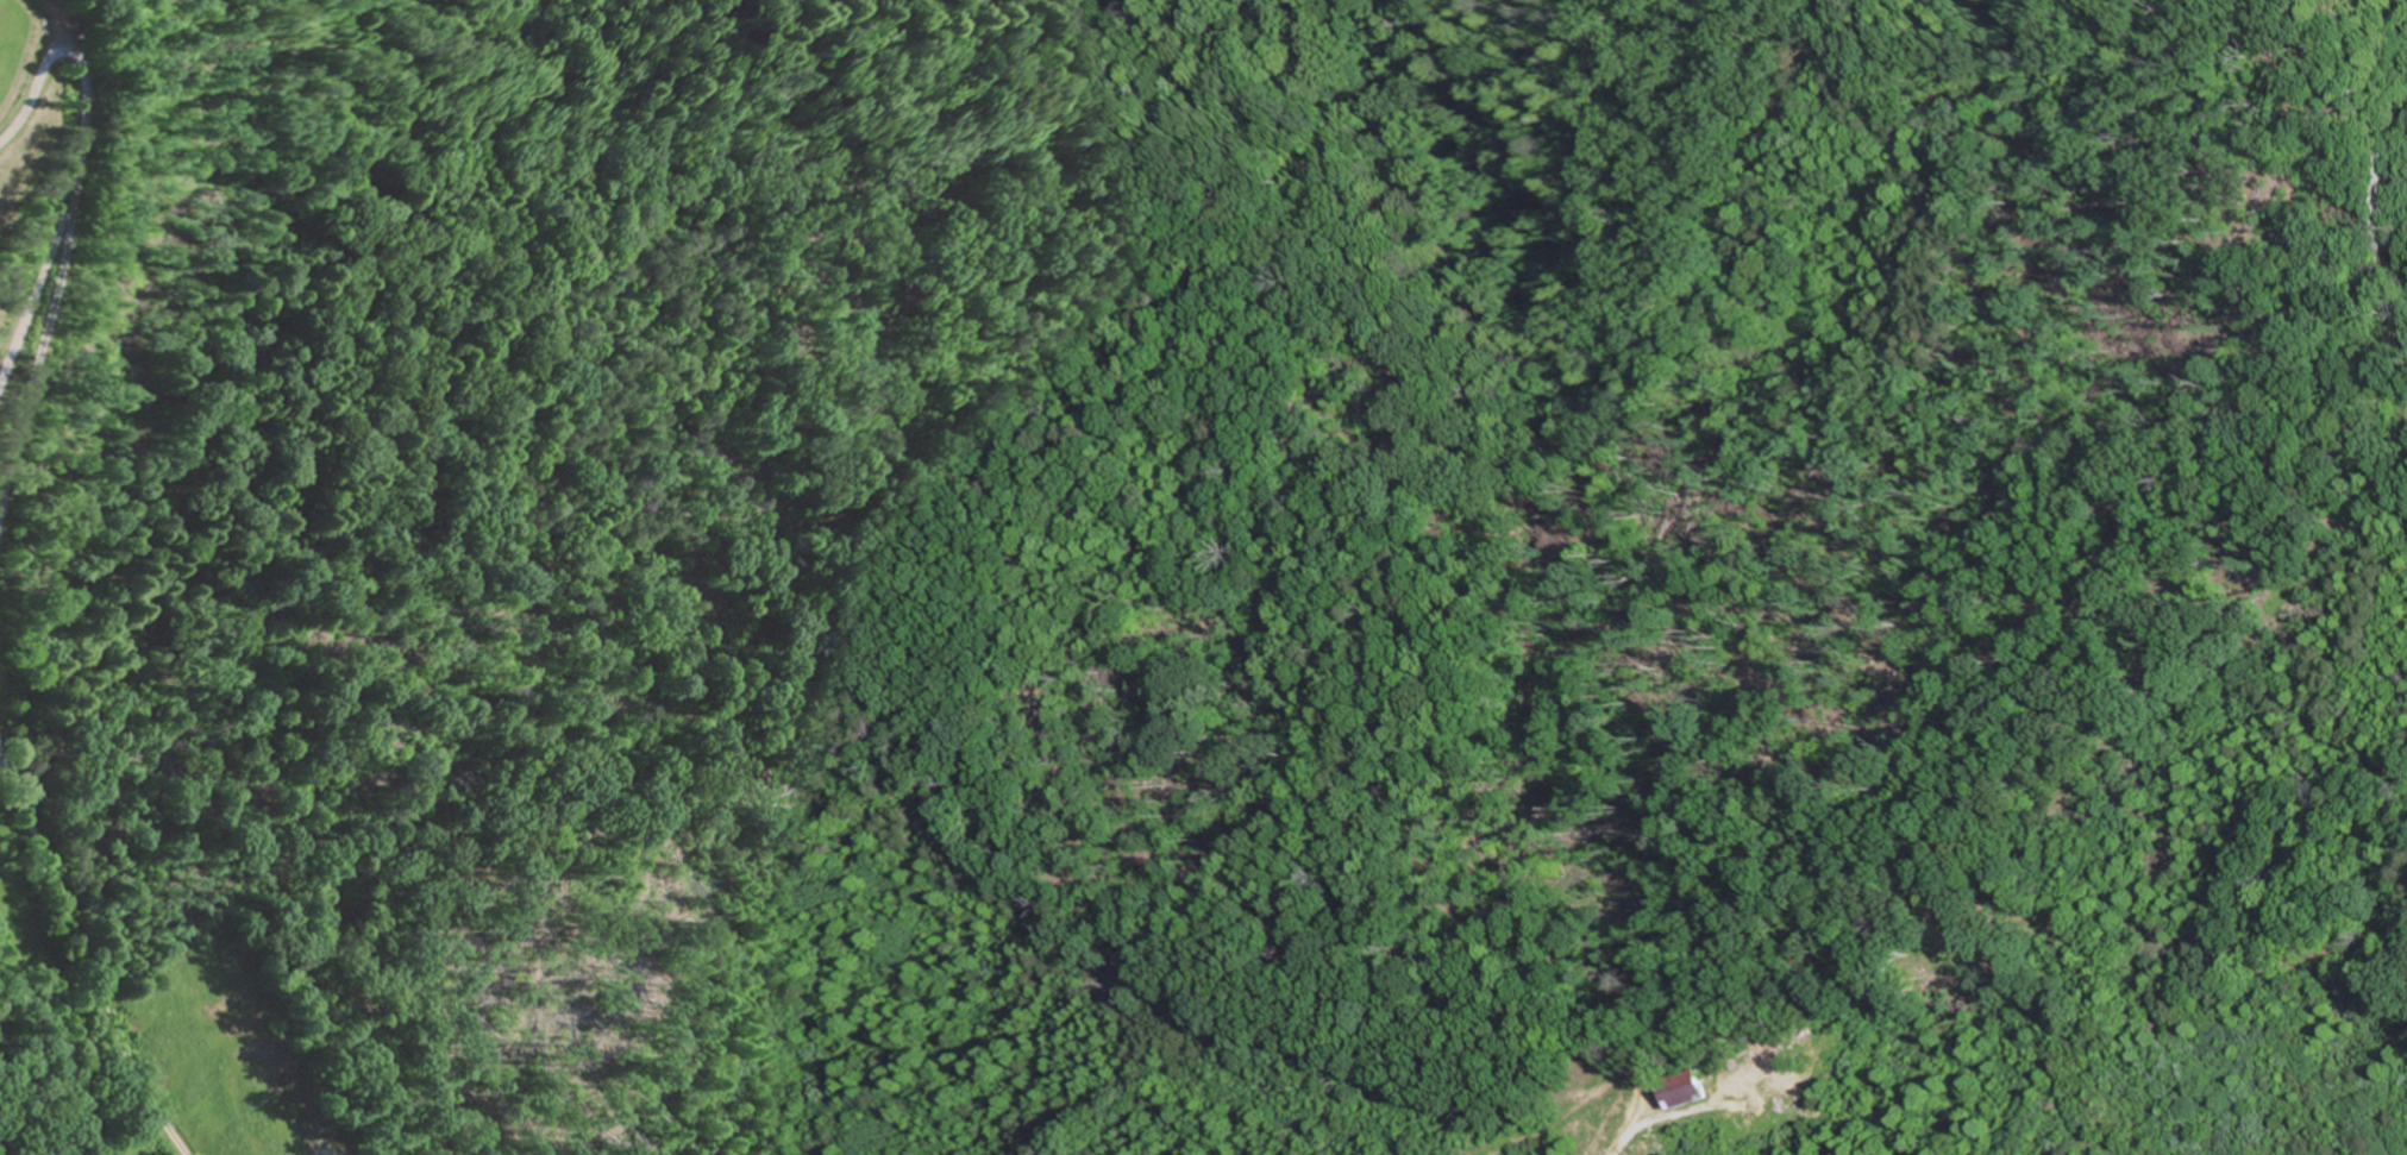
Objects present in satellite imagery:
road: (67, 250)
road: (1, 732)
road: (80, 937)
building: (1685, 1091)

